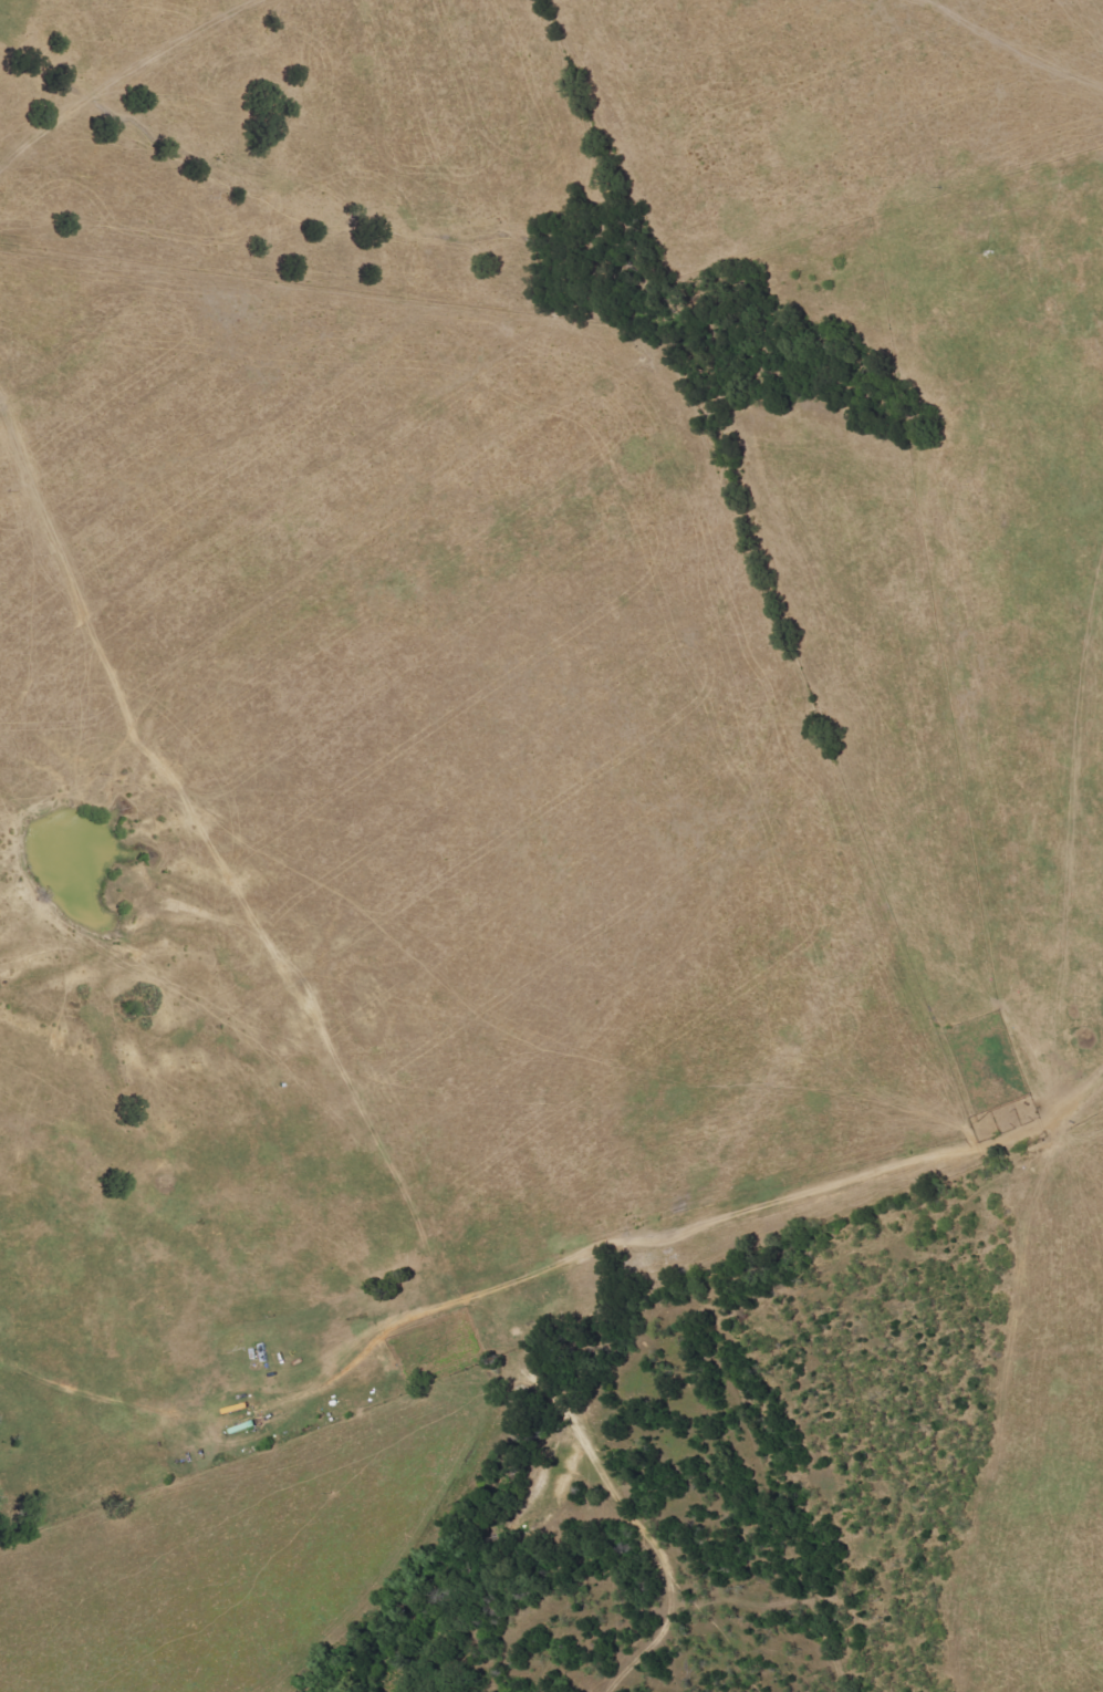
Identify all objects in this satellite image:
road: (673, 1227)

